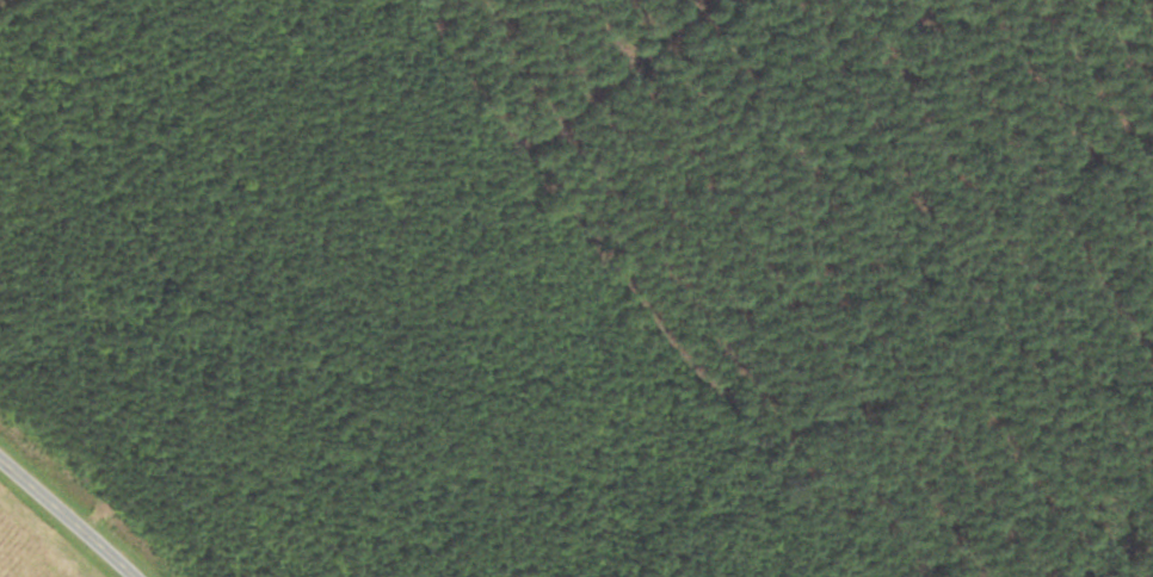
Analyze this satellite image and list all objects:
road: (66, 517)

